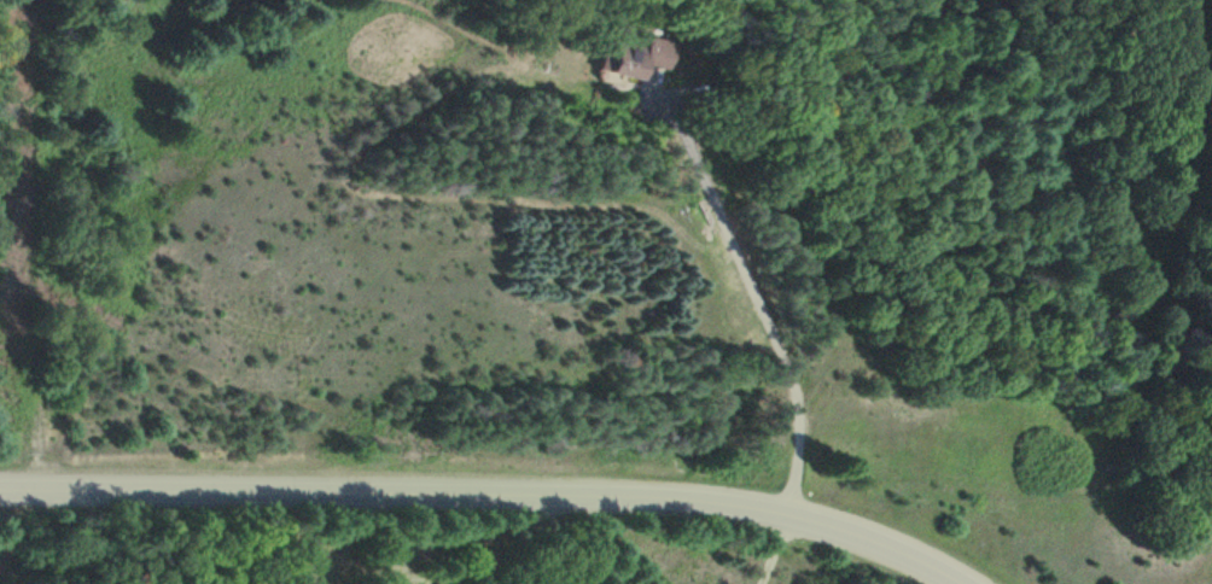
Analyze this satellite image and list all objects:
building: (630, 58)
road: (754, 285)
road: (488, 498)
road: (781, 550)

